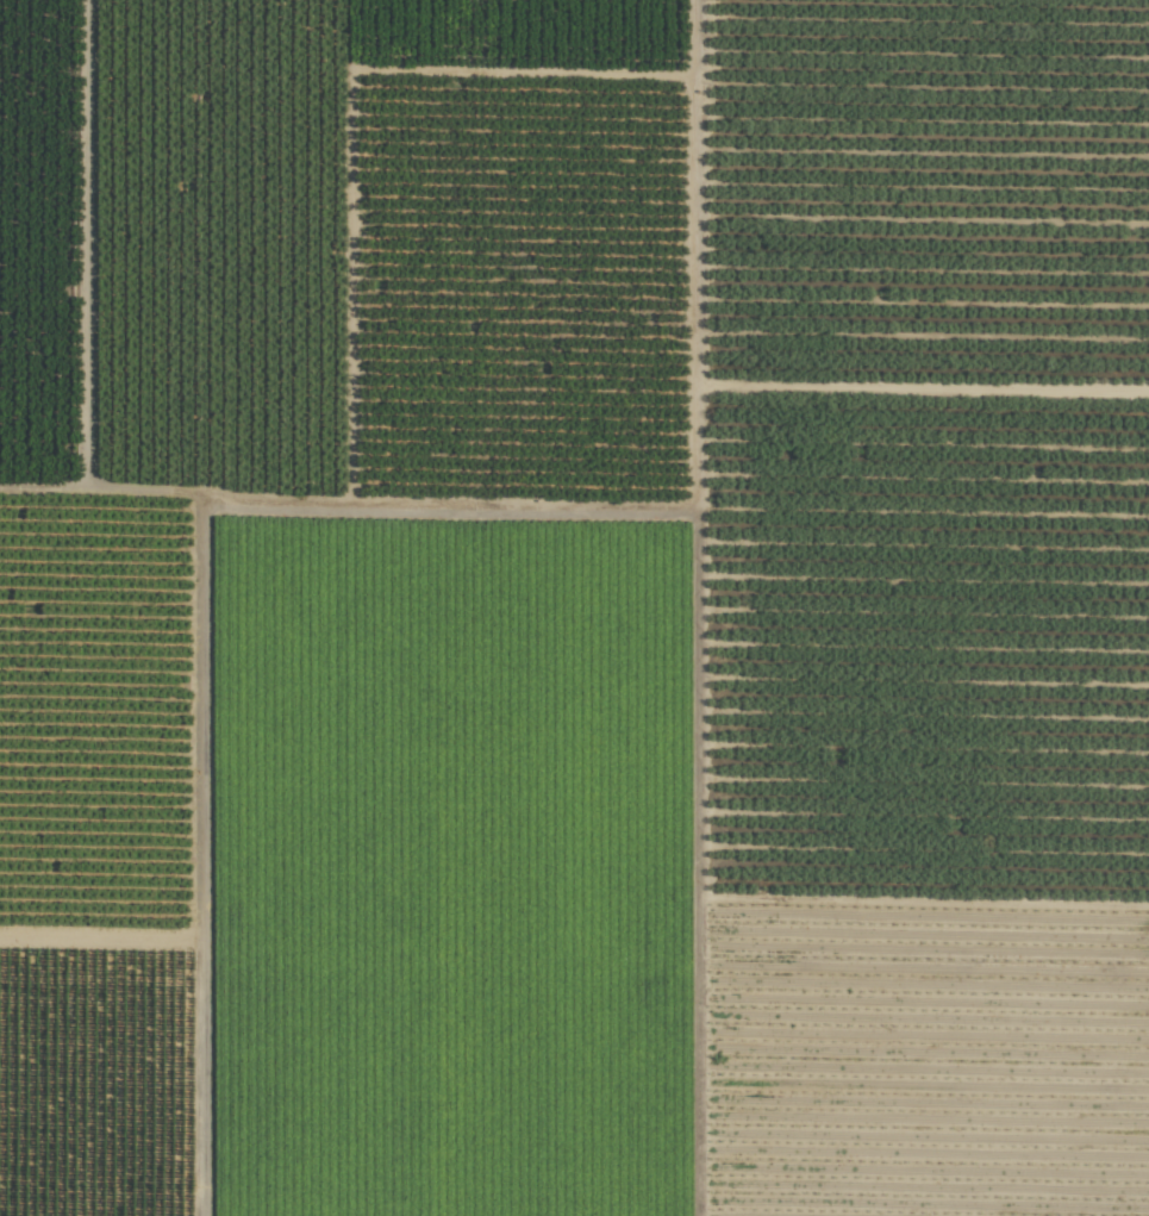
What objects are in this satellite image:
road: (698, 607)

